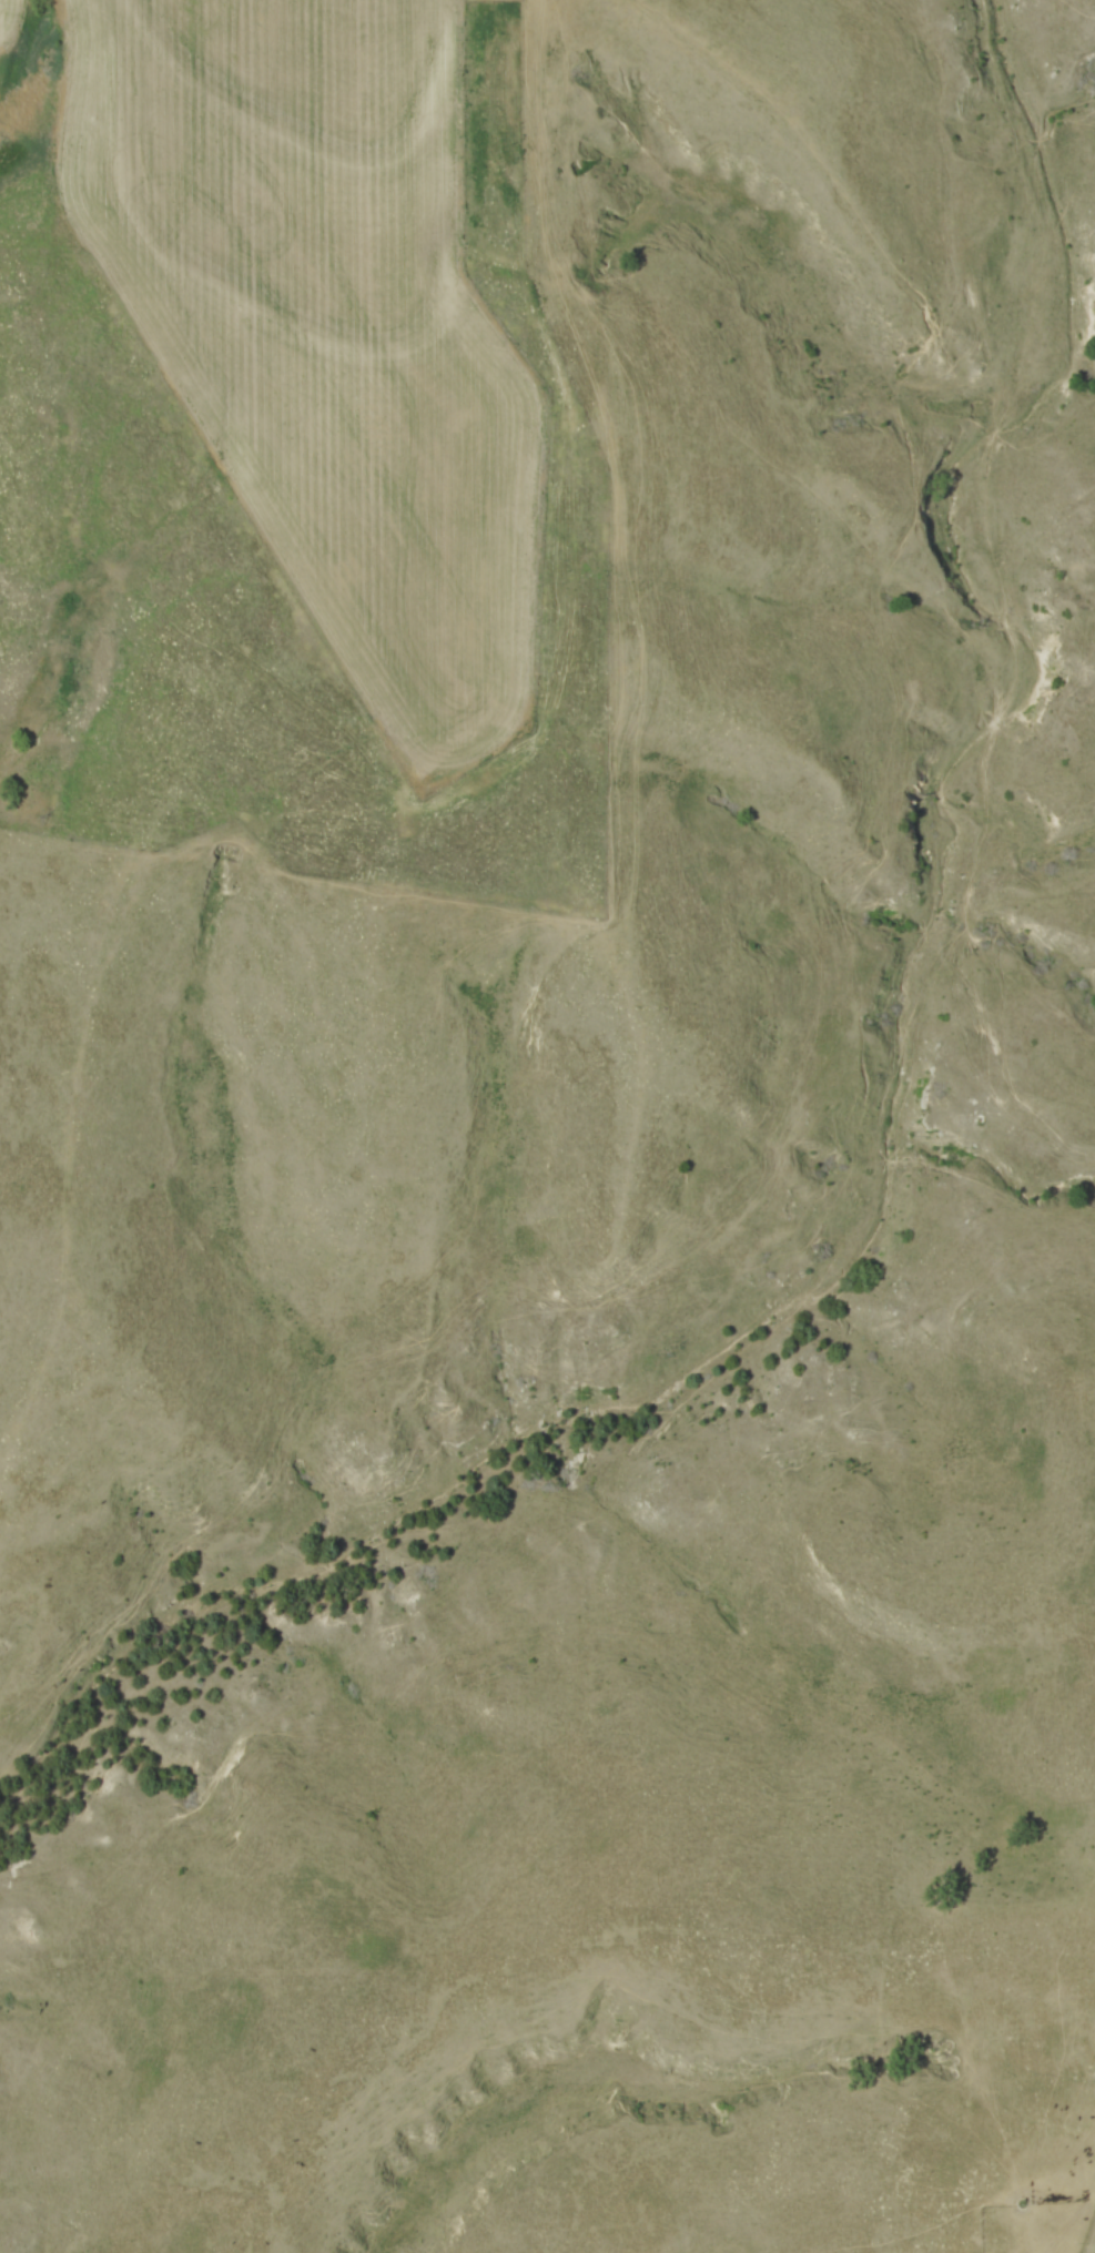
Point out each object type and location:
crop: (1087, 2234)

